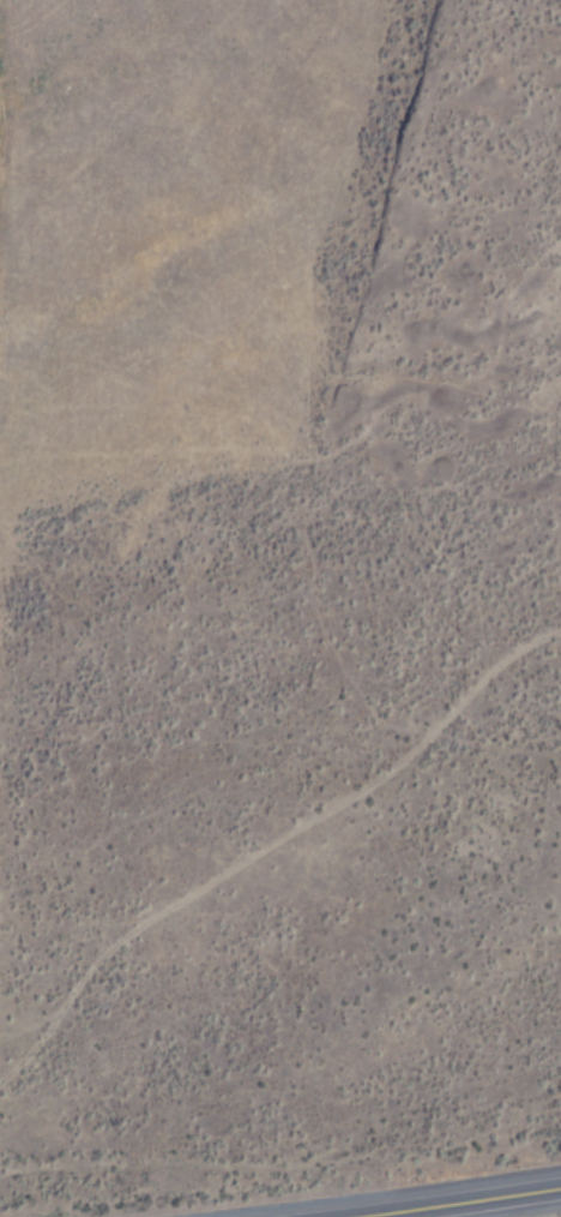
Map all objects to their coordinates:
road: (472, 1204)

